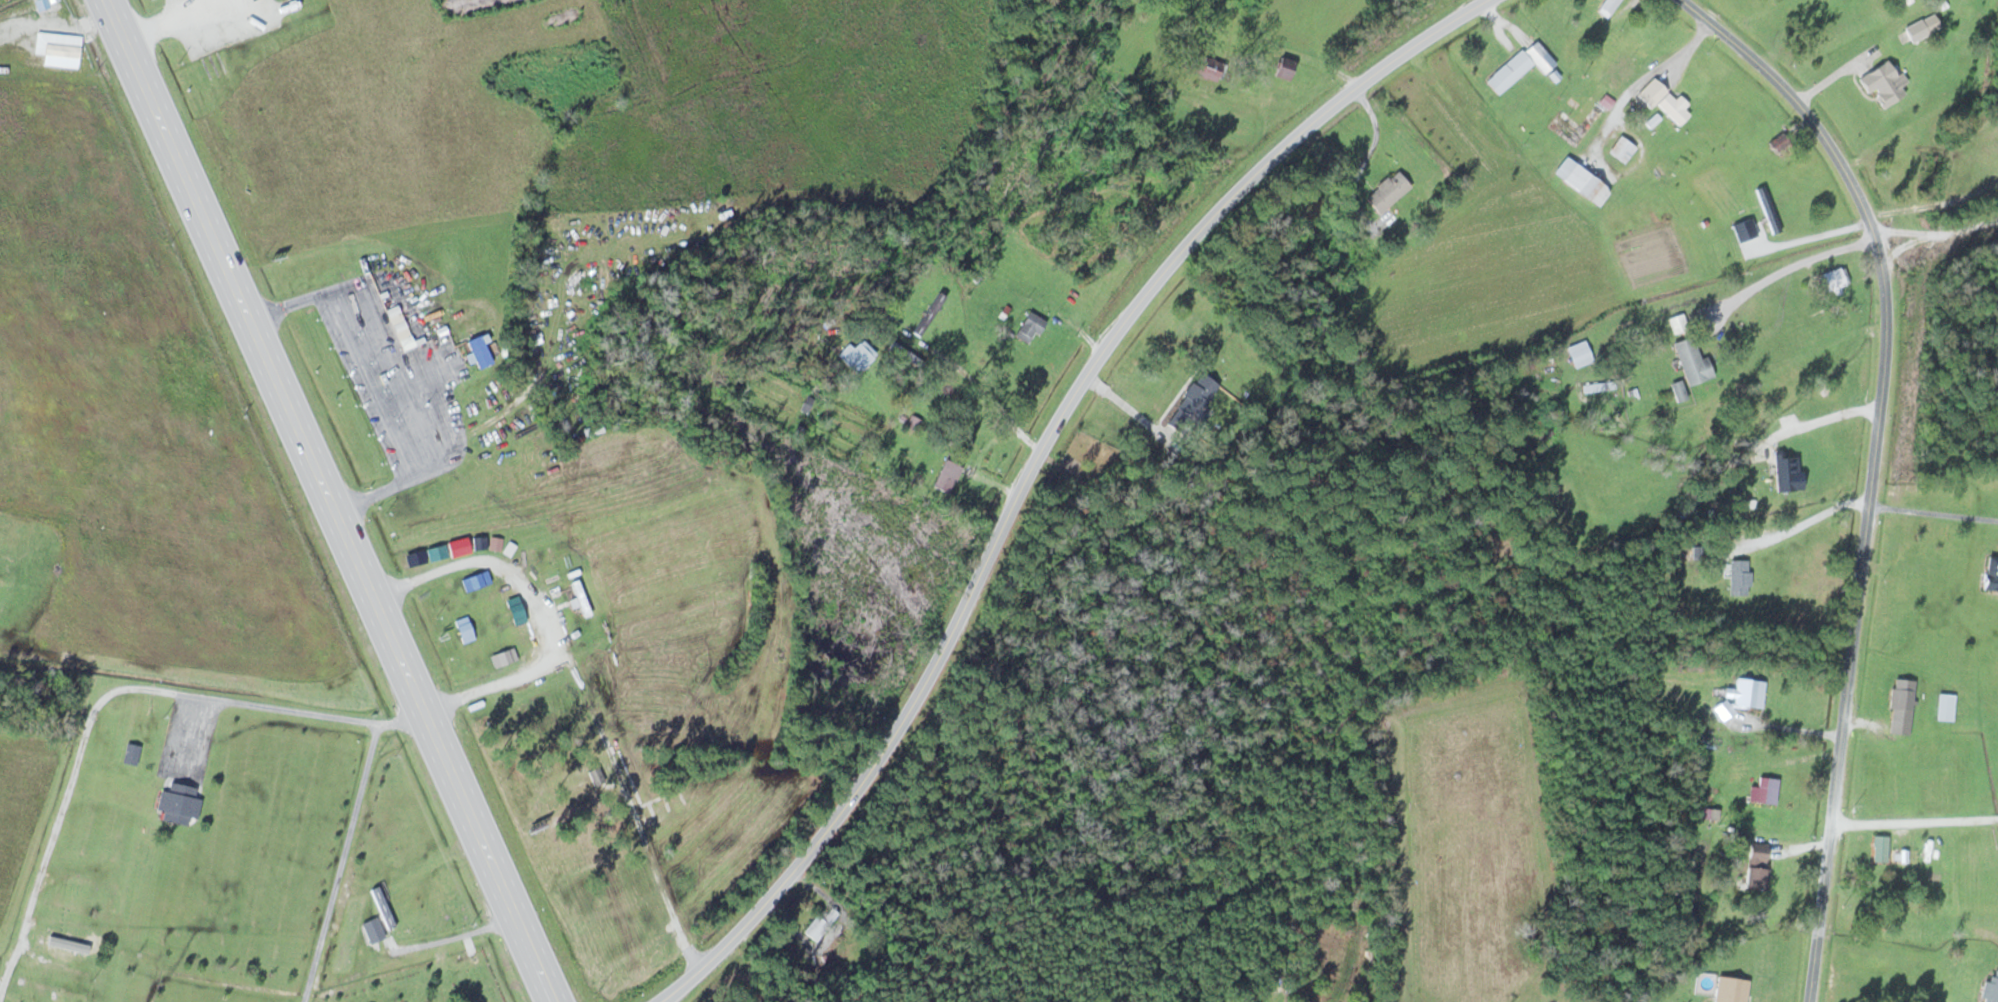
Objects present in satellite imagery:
building: (1607, 7)
building: (1921, 27)
building: (1539, 56)
building: (1280, 67)
building: (1508, 72)
building: (1883, 83)
building: (1663, 101)
building: (1621, 149)
building: (1580, 181)
building: (1385, 192)
building: (1768, 209)
building: (1834, 281)
building: (1029, 327)
building: (477, 351)
building: (904, 354)
building: (1578, 354)
building: (855, 358)
building: (1691, 362)
building: (1678, 391)
building: (1191, 403)
crop: (128, 410)
building: (911, 423)
road: (1875, 465)
road: (1032, 467)
building: (945, 476)
road: (331, 500)
building: (1990, 574)
building: (1739, 577)
building: (579, 597)
building: (1741, 697)
building: (1900, 706)
building: (1945, 707)
building: (131, 753)
building: (1766, 789)
building: (179, 802)
building: (1710, 813)
road: (1916, 820)
building: (1879, 848)
building: (1754, 864)
building: (820, 923)
building: (1730, 989)
building: (1990, 989)

